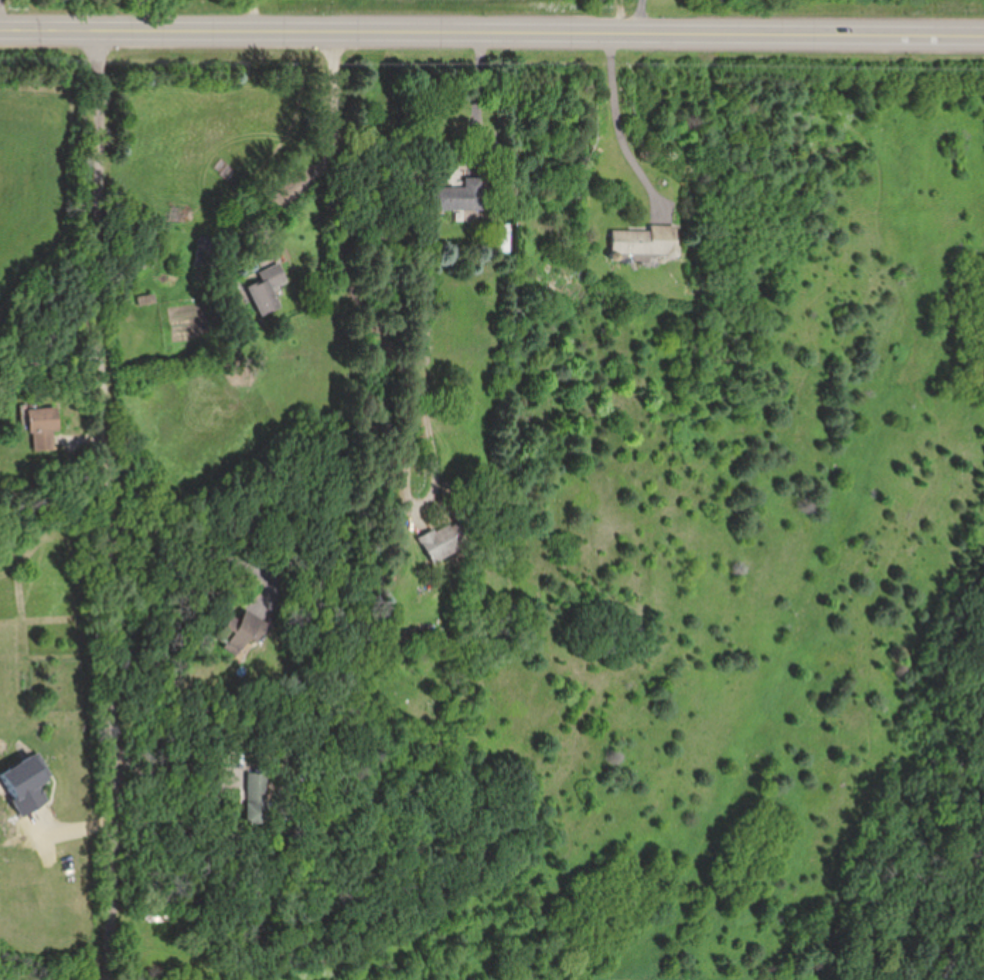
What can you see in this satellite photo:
road: (641, 18)
road: (491, 35)
road: (476, 103)
road: (628, 127)
road: (326, 153)
building: (463, 196)
building: (501, 238)
building: (644, 243)
building: (208, 253)
building: (267, 289)
road: (361, 316)
building: (42, 428)
road: (109, 505)
building: (448, 540)
road: (200, 548)
building: (238, 631)
building: (22, 784)
road: (168, 792)
building: (254, 797)

